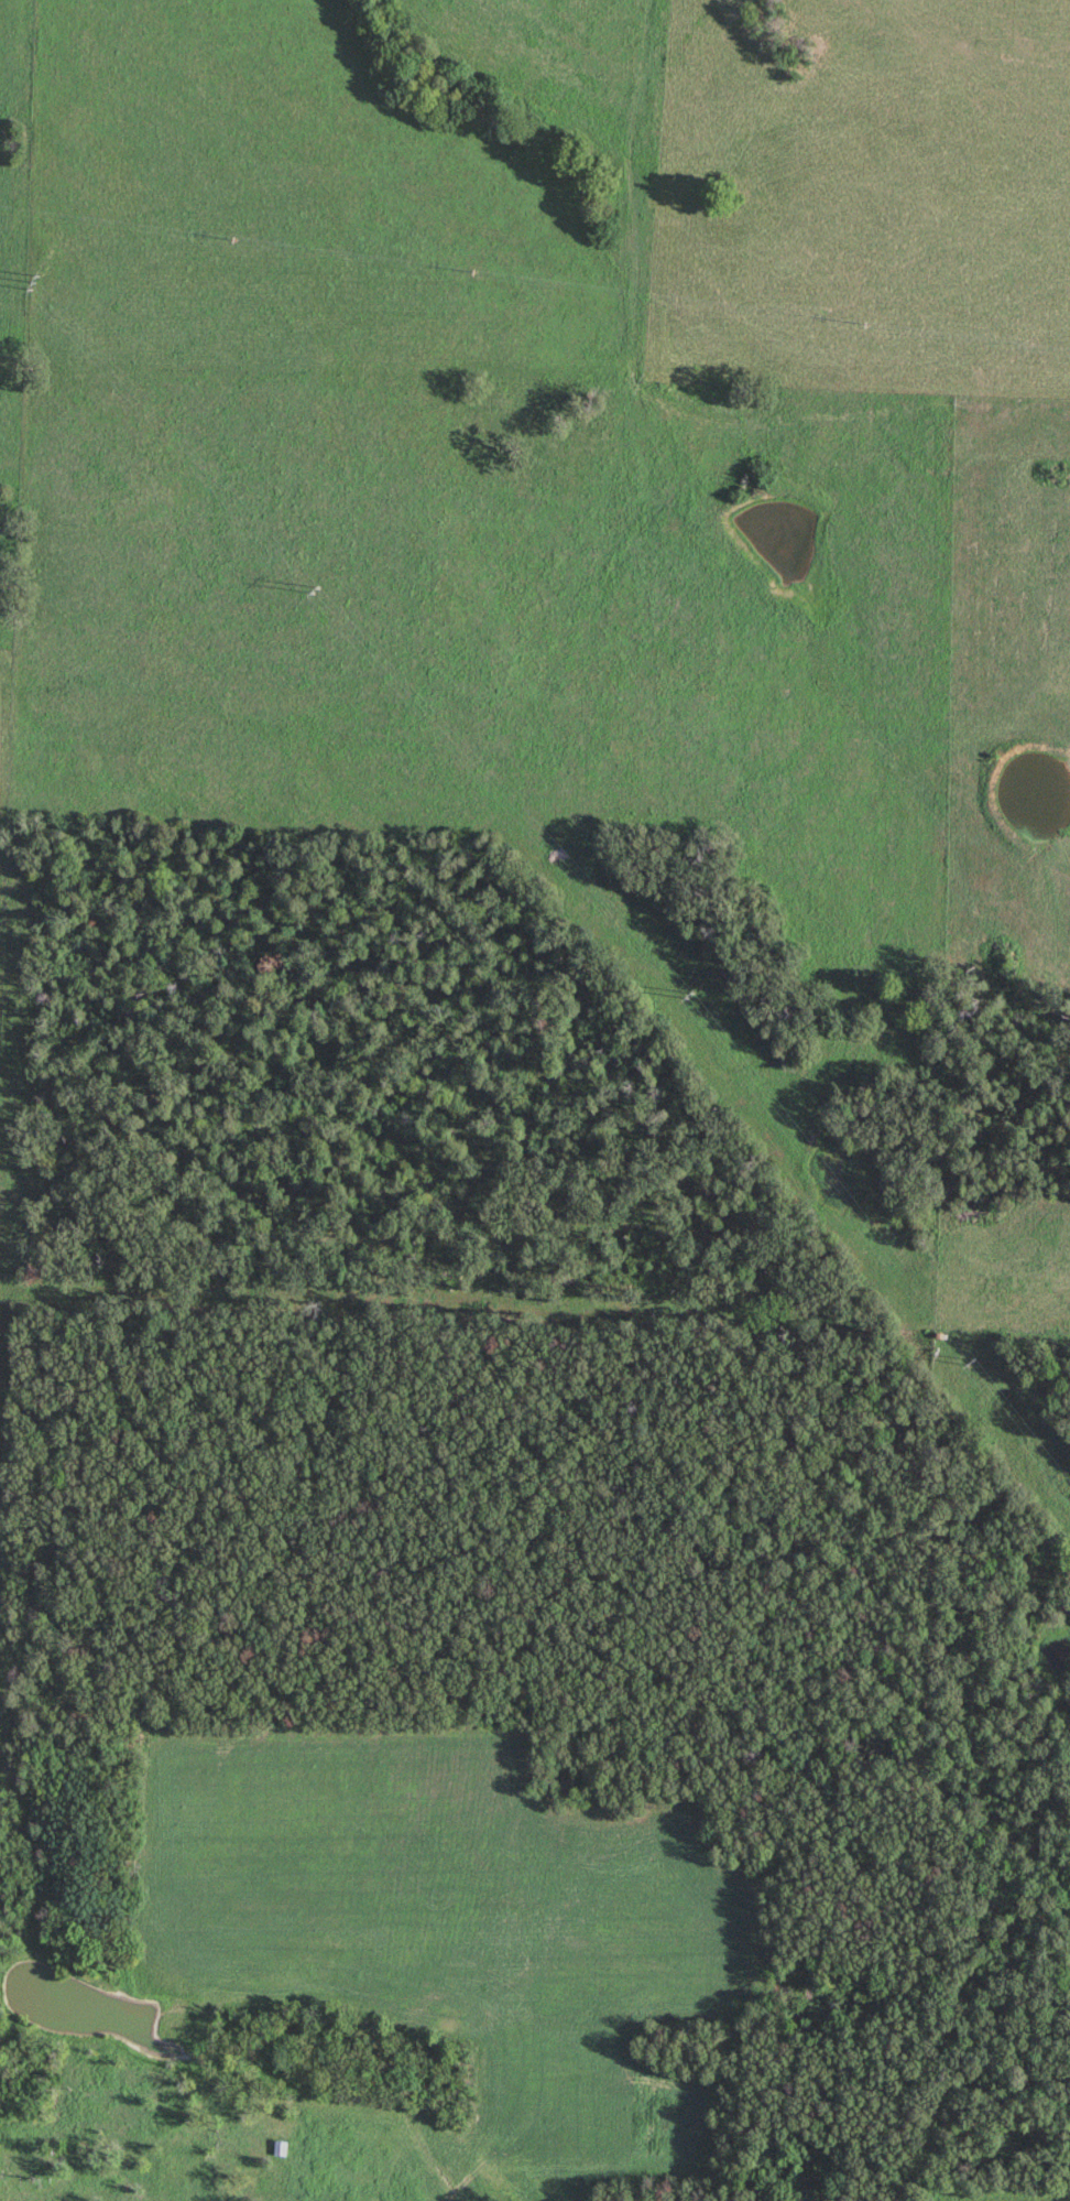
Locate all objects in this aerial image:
building: (281, 2147)
building: (18, 2155)
road: (34, 2190)

